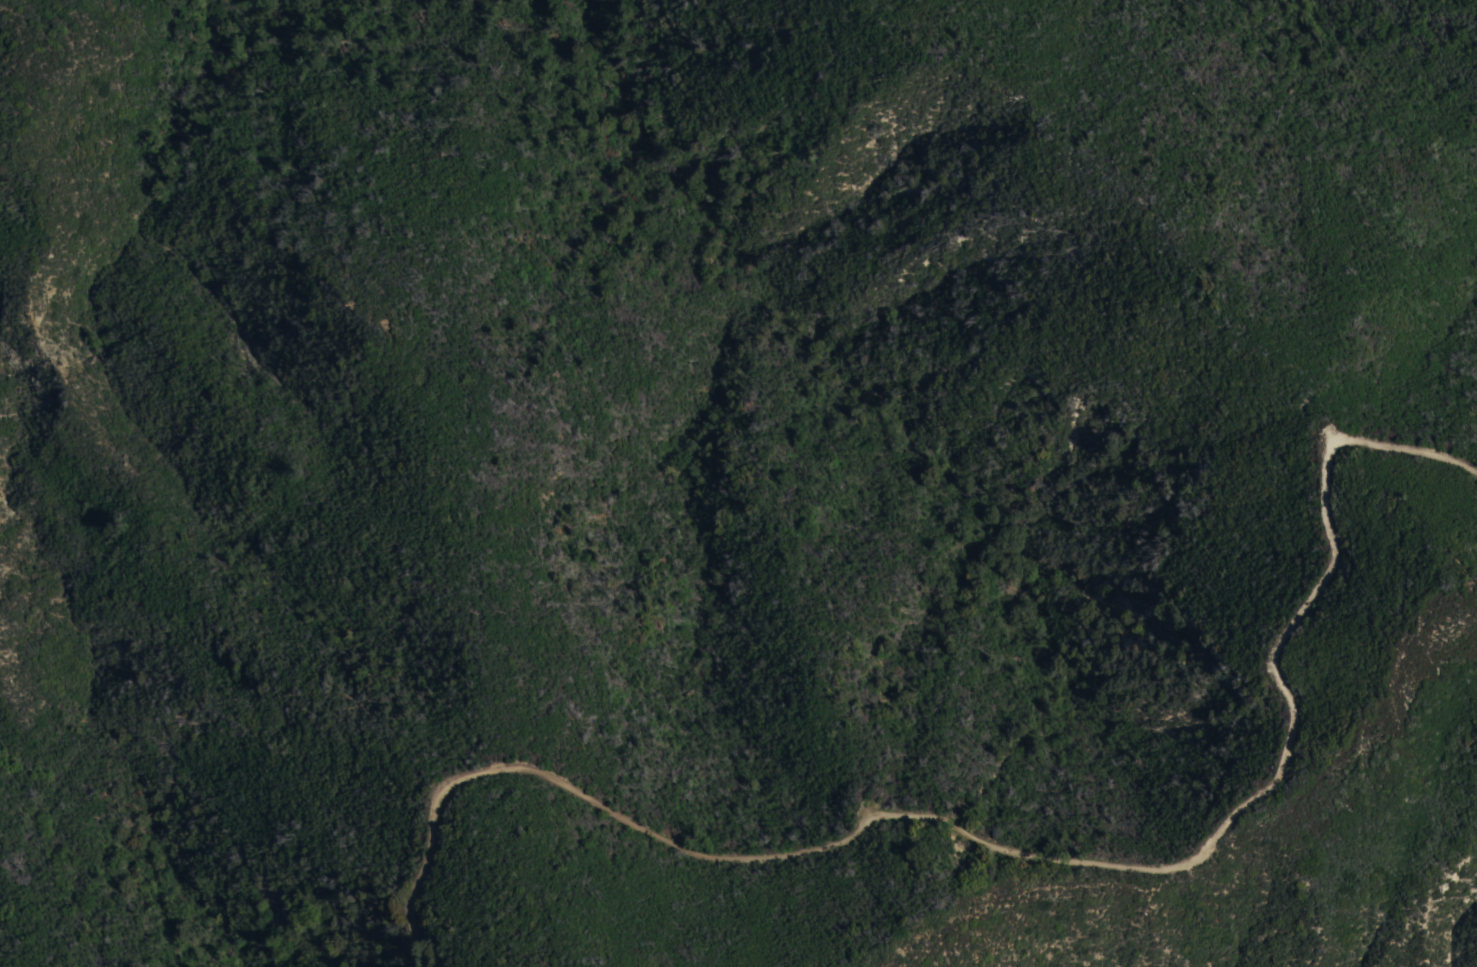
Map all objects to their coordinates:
road: (1025, 844)

